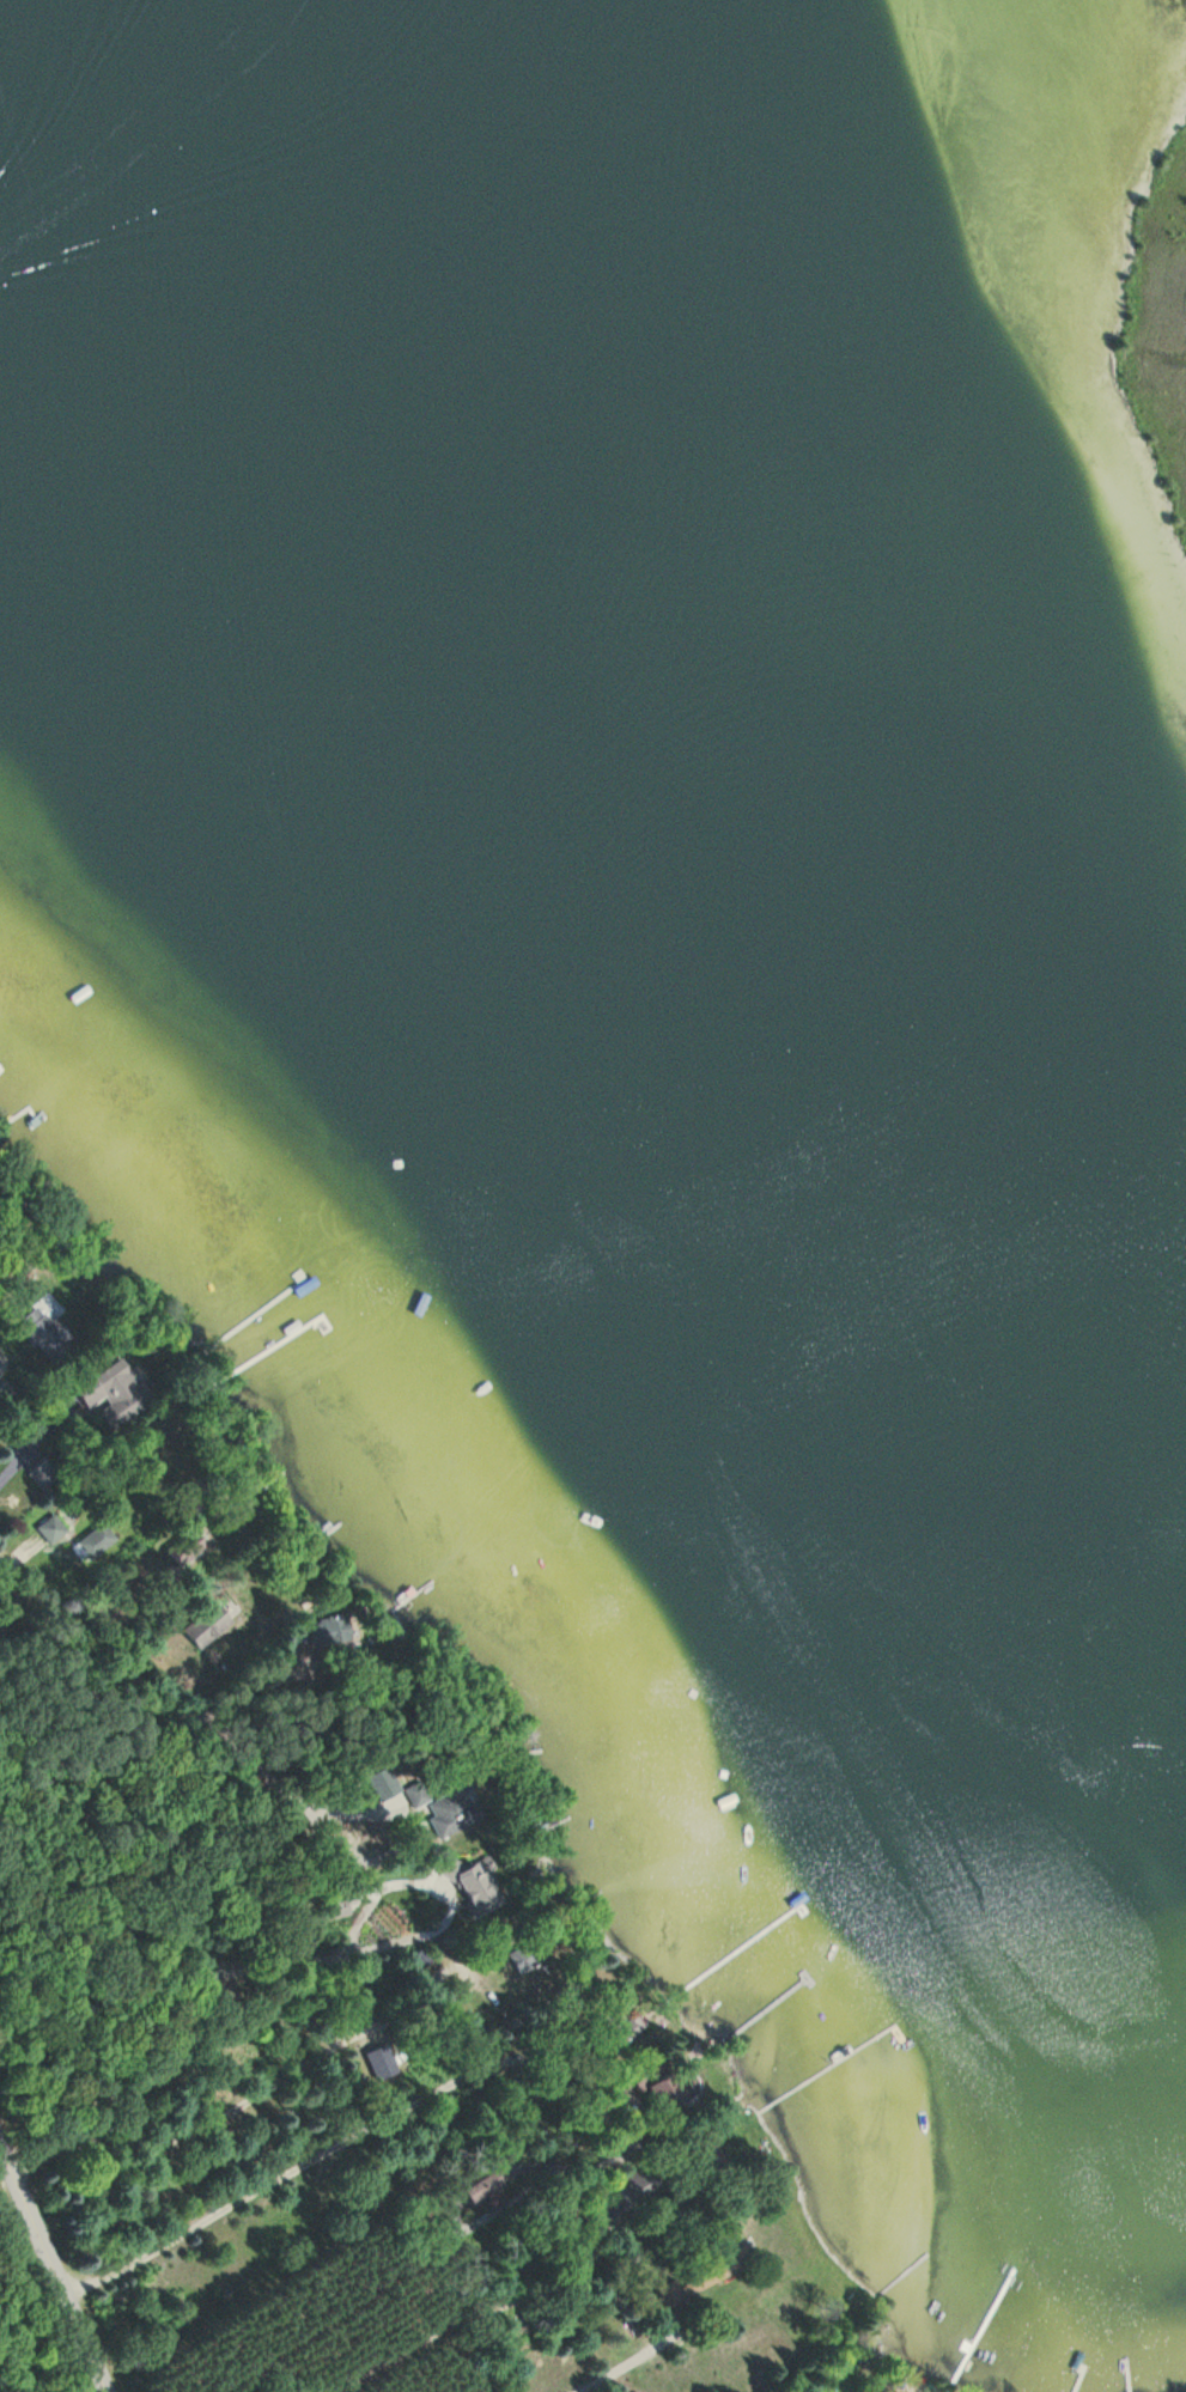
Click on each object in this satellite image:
building: (45, 1333)
building: (115, 1394)
building: (43, 1475)
building: (53, 1529)
building: (97, 1541)
building: (187, 1548)
building: (206, 1626)
building: (332, 1631)
building: (456, 1806)
building: (480, 1887)
road: (445, 1891)
building: (525, 1956)
road: (148, 1985)
building: (381, 2063)
building: (676, 2093)
road: (241, 2107)
building: (644, 2183)
building: (485, 2185)
road: (263, 2192)
road: (53, 2270)
road: (534, 2296)
road: (620, 2367)

